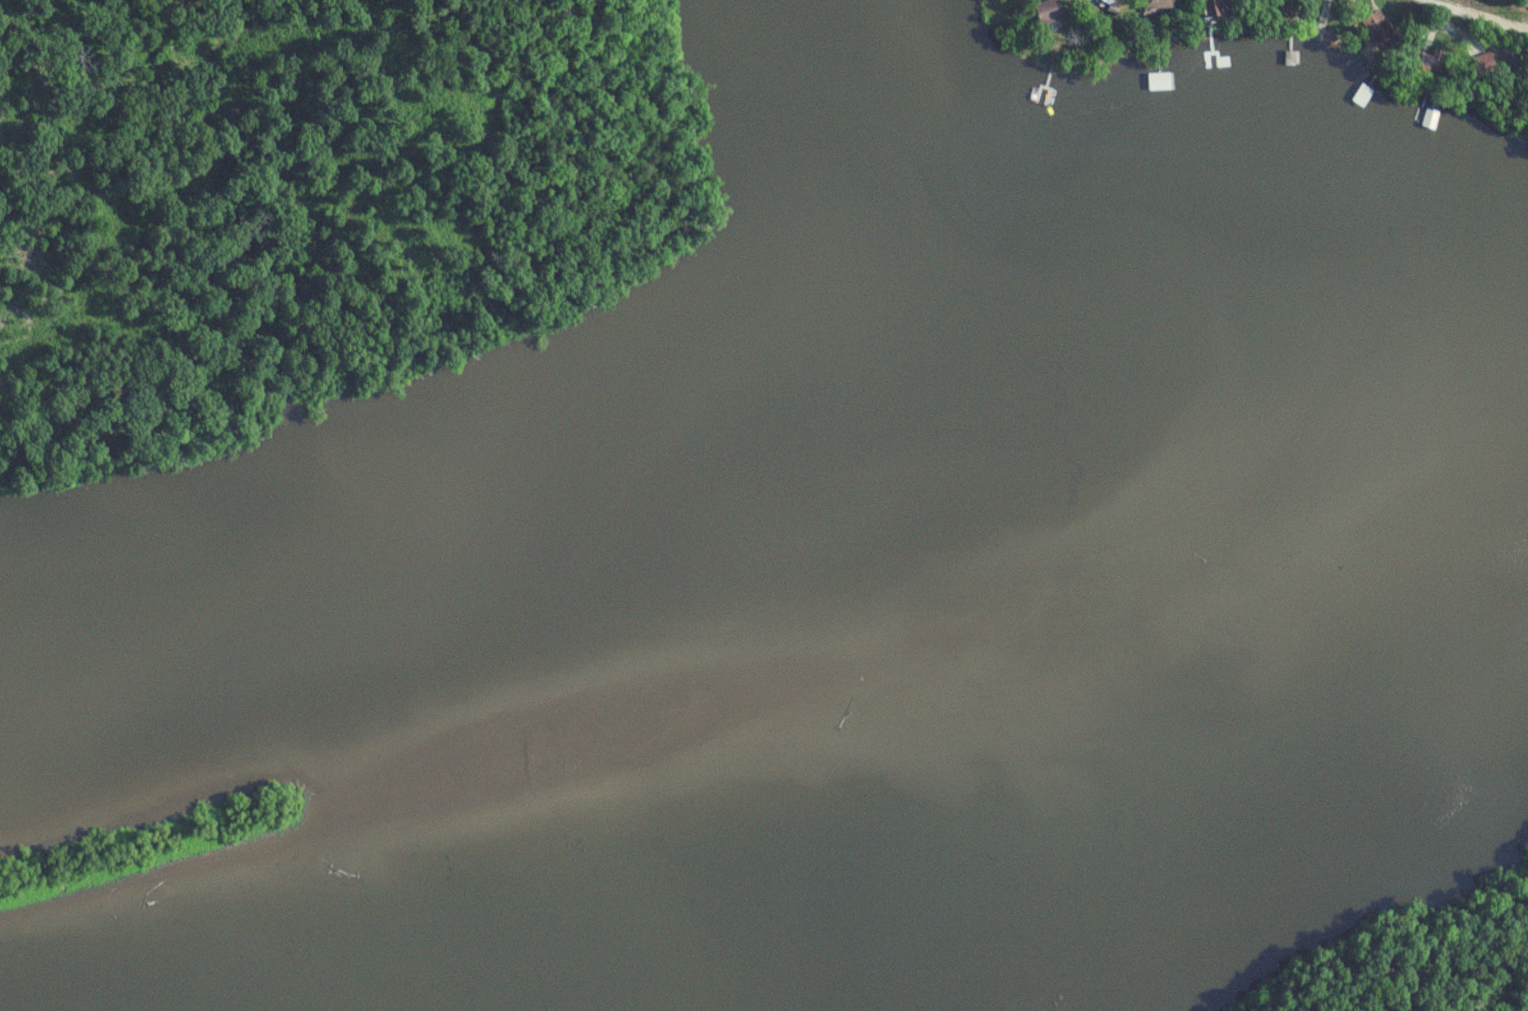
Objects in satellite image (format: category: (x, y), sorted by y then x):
building: (1051, 13)
road: (1479, 15)
building: (1382, 30)
building: (1487, 65)
building: (1161, 82)
building: (1432, 120)
river: (1026, 892)

